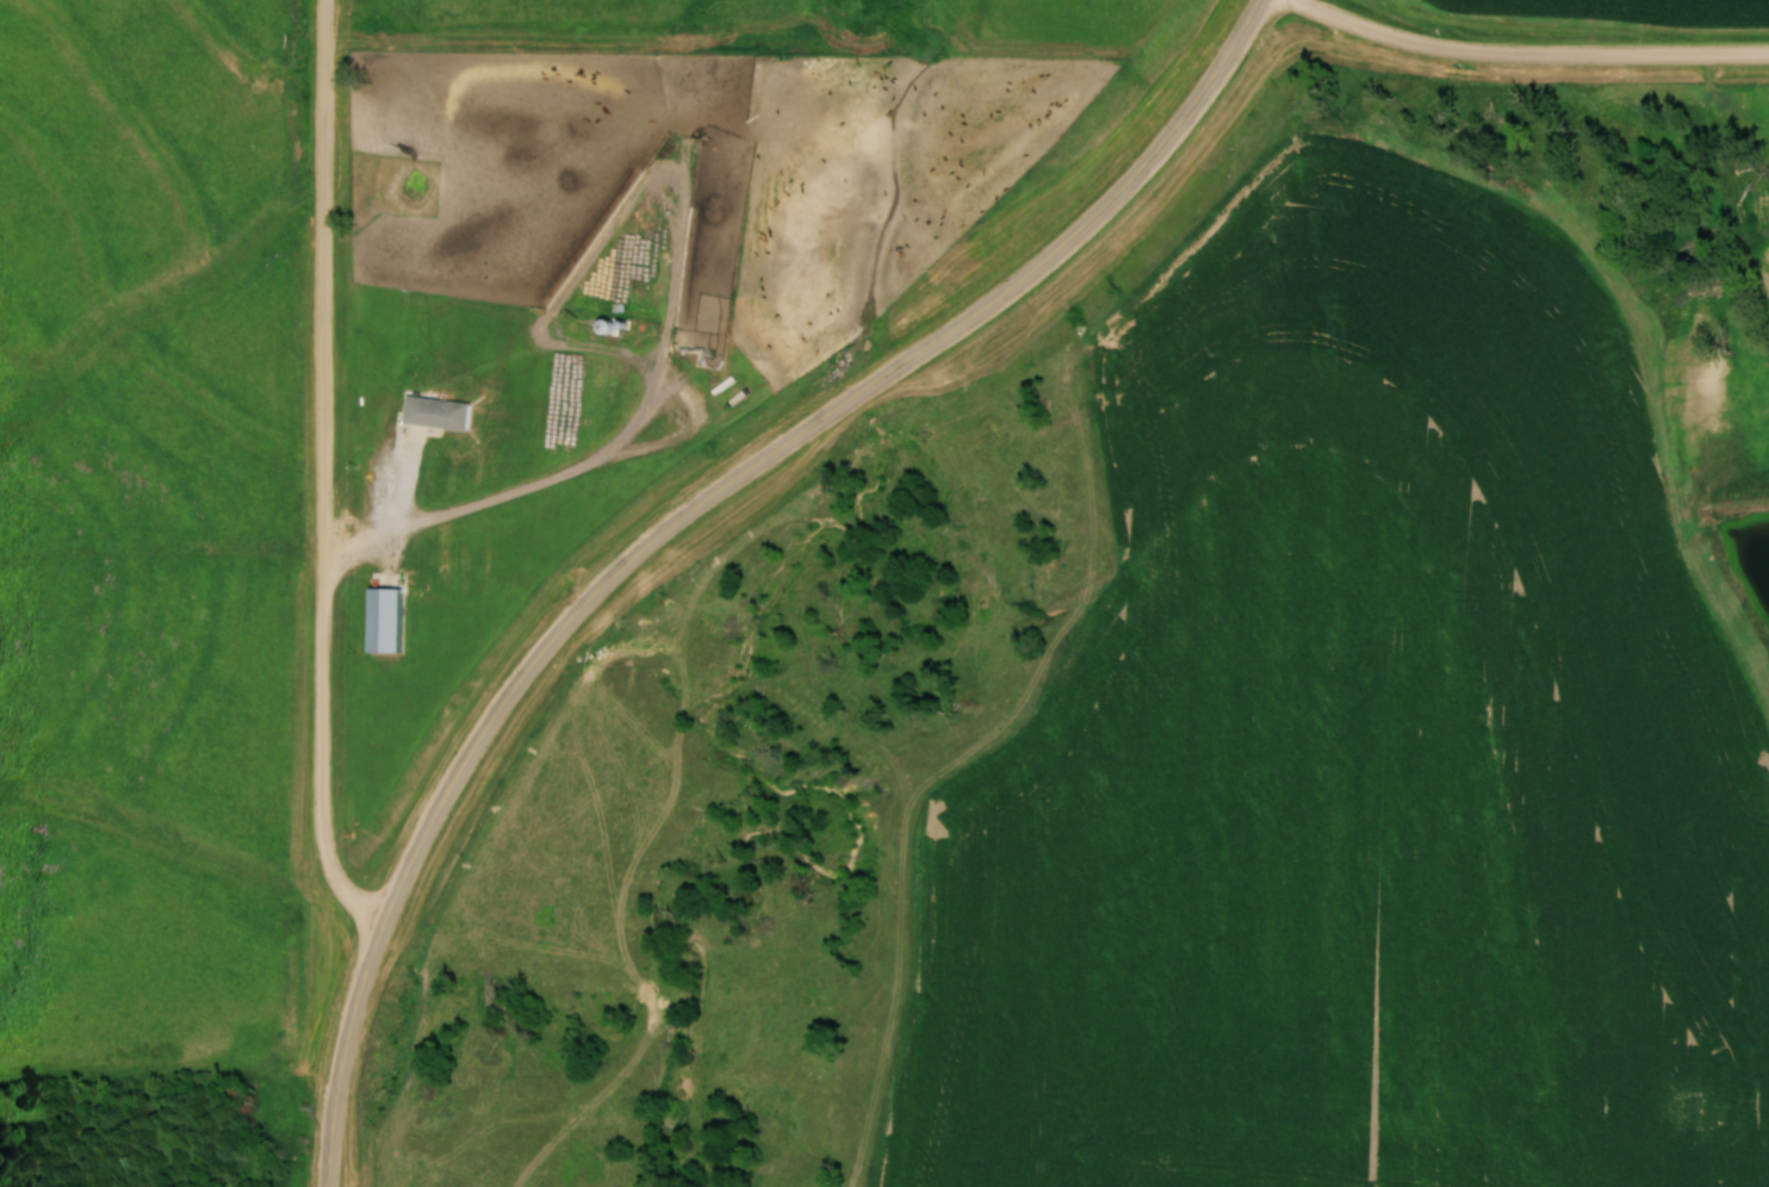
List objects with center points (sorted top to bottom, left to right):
road: (1528, 51)
building: (434, 414)
road: (793, 436)
road: (319, 472)
road: (381, 515)
building: (380, 621)
road: (341, 1051)

